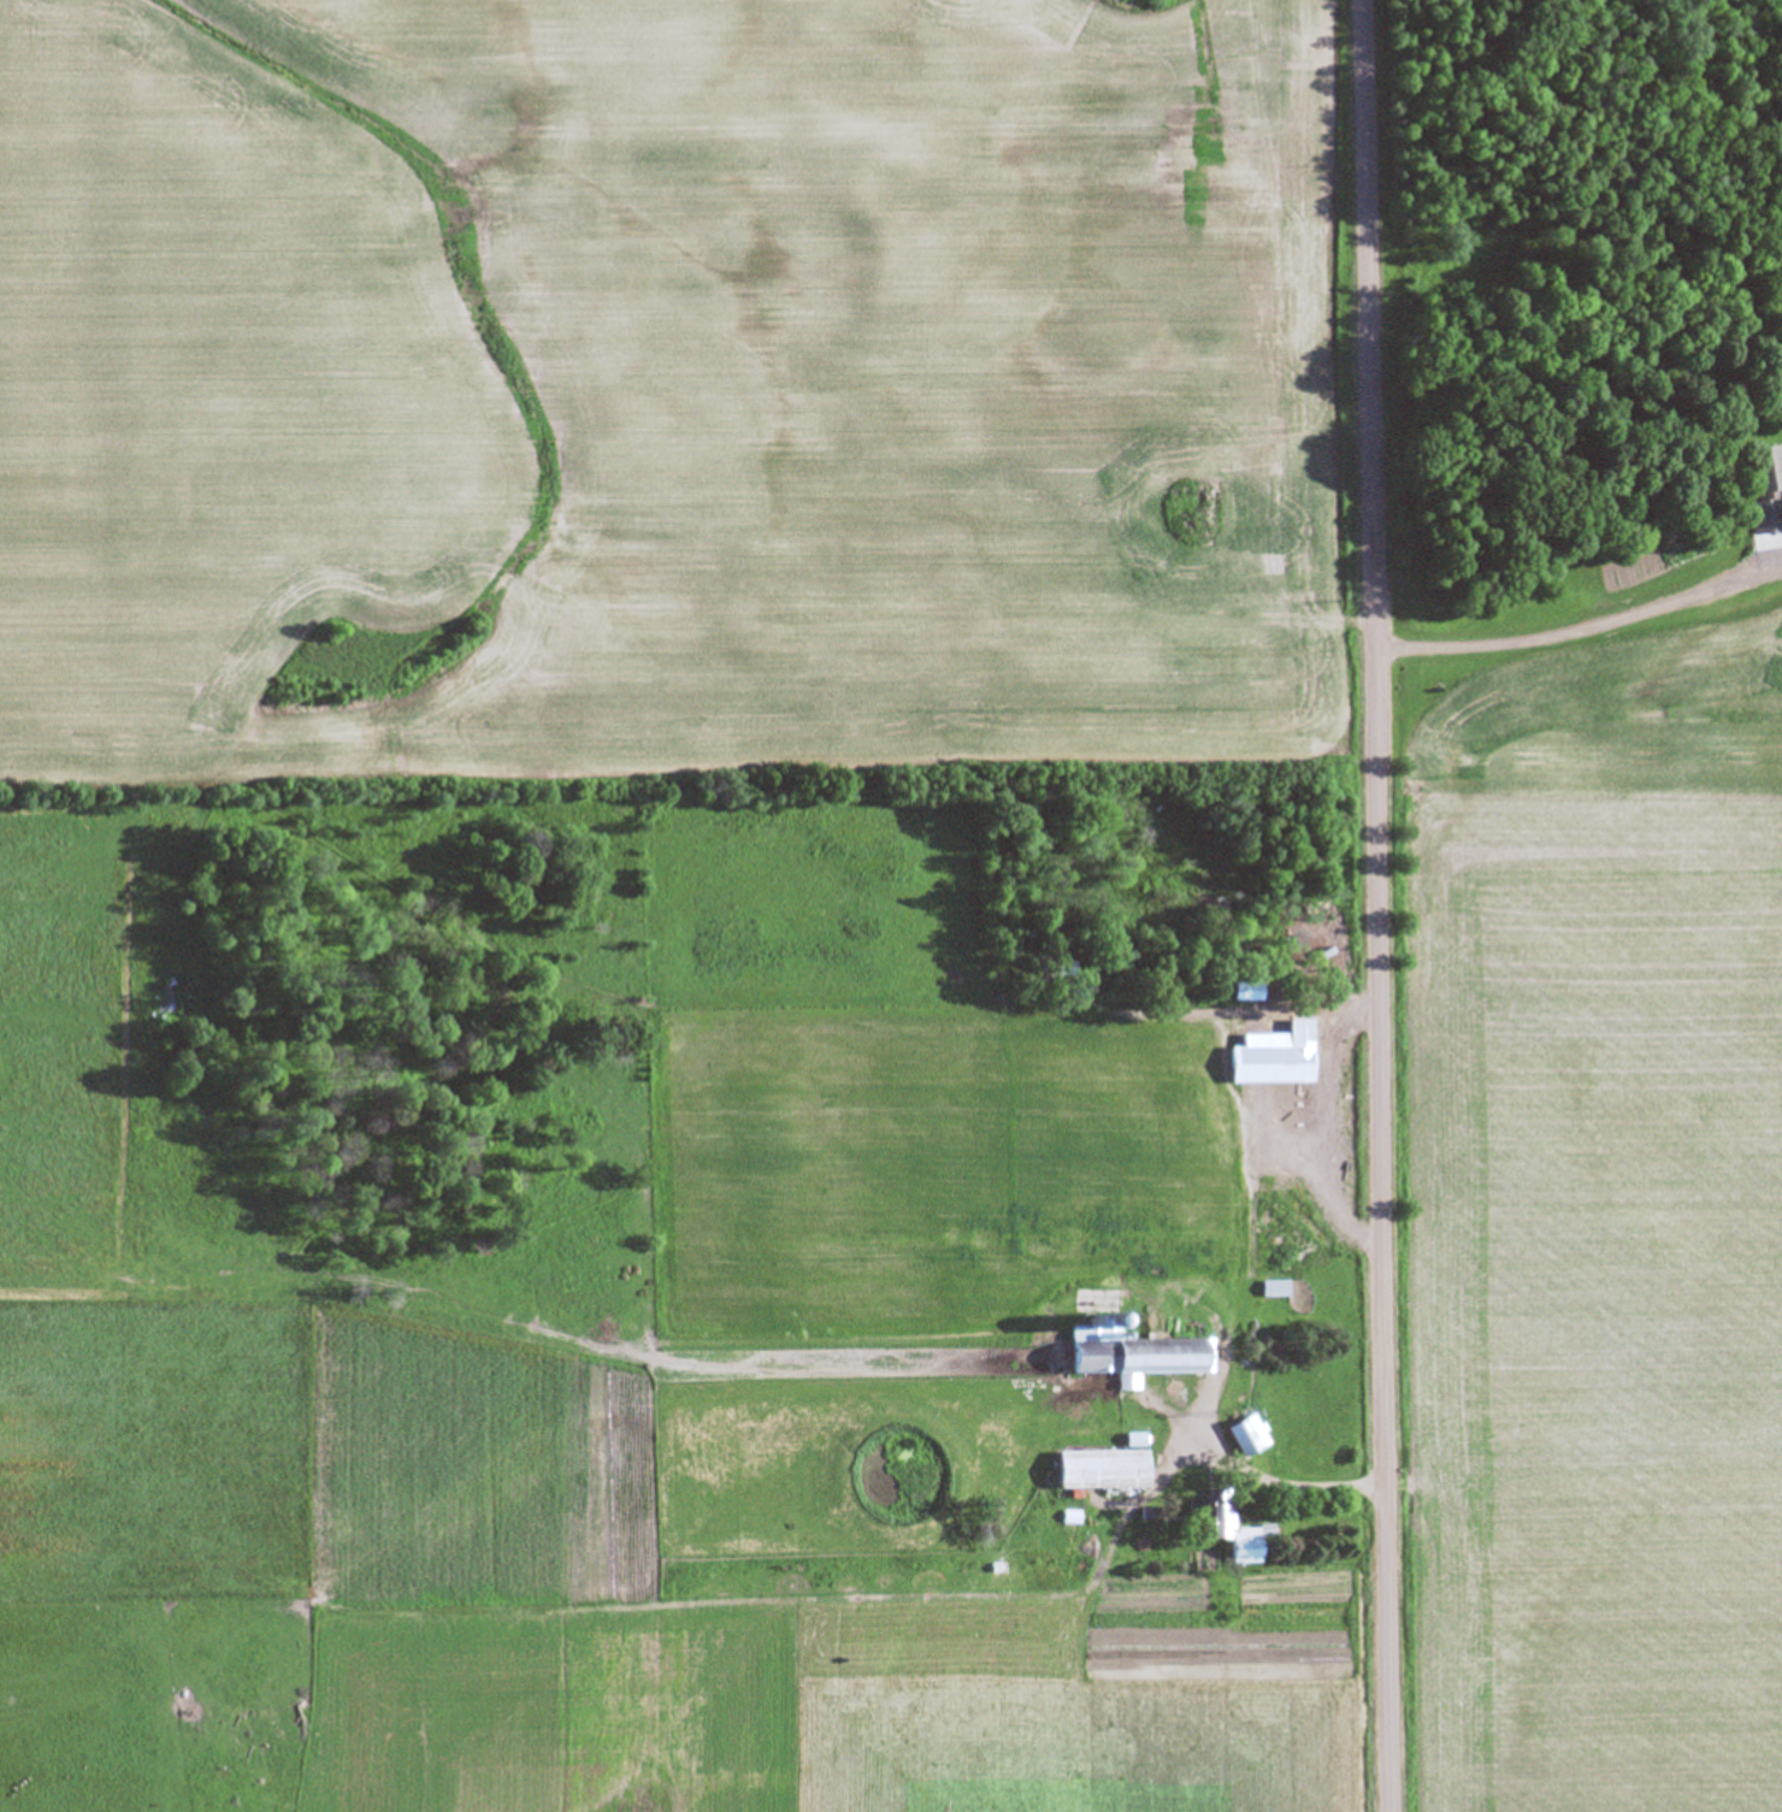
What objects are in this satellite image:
building: (1758, 492)
road: (1368, 905)
building: (1274, 1291)
building: (1131, 1363)
building: (1246, 1438)
building: (1096, 1472)
building: (1203, 1521)
building: (1239, 1548)

